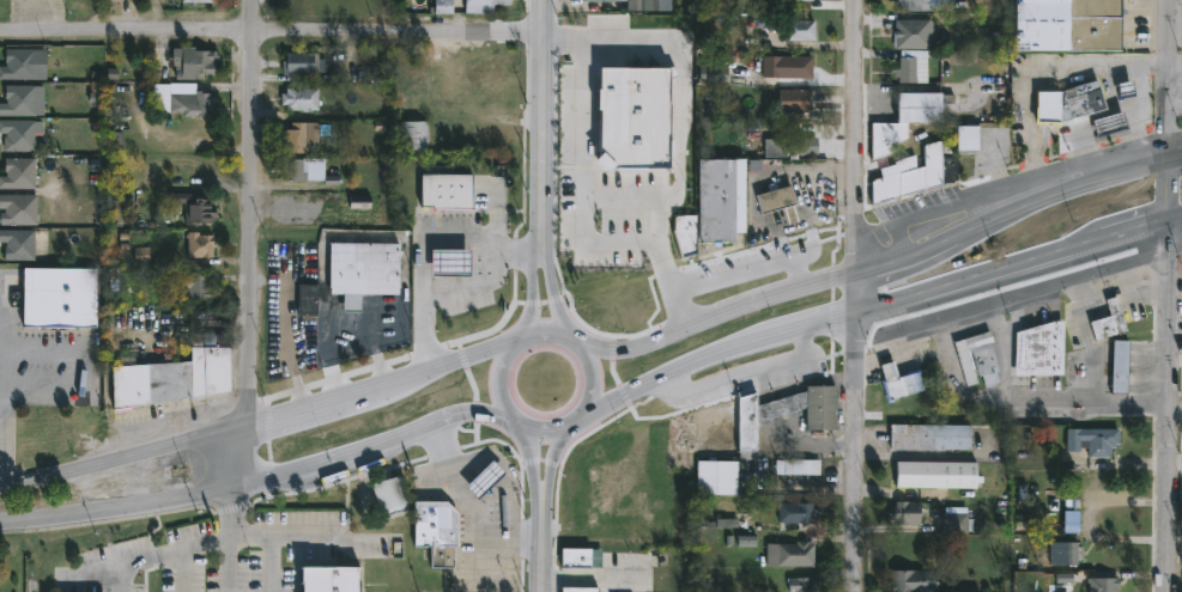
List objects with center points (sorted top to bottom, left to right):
building: (194, 0)
building: (799, 0)
building: (486, 1)
building: (601, 1)
building: (108, 2)
building: (638, 5)
building: (925, 5)
building: (1066, 24)
building: (600, 28)
building: (800, 30)
road: (269, 32)
building: (911, 33)
building: (193, 62)
building: (299, 62)
building: (17, 63)
building: (786, 66)
road: (1175, 66)
building: (611, 67)
building: (907, 72)
road: (1036, 73)
building: (478, 75)
building: (711, 75)
road: (1166, 83)
building: (298, 98)
road: (1111, 98)
road: (1139, 98)
building: (187, 99)
building: (17, 100)
building: (792, 100)
building: (1079, 100)
building: (604, 104)
road: (544, 117)
building: (904, 120)
building: (640, 122)
building: (1107, 123)
building: (17, 135)
building: (298, 136)
building: (412, 136)
building: (489, 140)
building: (592, 140)
road: (1091, 140)
building: (788, 146)
road: (1139, 152)
building: (942, 161)
road: (1174, 163)
building: (292, 171)
building: (17, 172)
building: (595, 177)
road: (592, 187)
building: (445, 188)
building: (719, 199)
building: (776, 202)
building: (193, 207)
building: (17, 209)
building: (296, 210)
road: (254, 216)
building: (606, 221)
road: (424, 243)
road: (550, 243)
building: (198, 244)
building: (17, 245)
building: (663, 246)
building: (449, 260)
gas station: (449, 260)
building: (593, 267)
building: (360, 268)
road: (884, 273)
building: (196, 285)
road: (1133, 291)
road: (865, 295)
road: (1103, 295)
building: (55, 297)
road: (541, 297)
road: (565, 297)
building: (304, 300)
building: (478, 301)
road: (347, 313)
road: (883, 316)
building: (1107, 322)
road: (1085, 335)
road: (558, 340)
road: (534, 347)
road: (1000, 347)
road: (584, 349)
building: (1038, 349)
building: (976, 359)
building: (1117, 367)
building: (170, 374)
road: (951, 374)
road: (1168, 378)
building: (898, 383)
road: (510, 384)
road: (604, 387)
road: (384, 393)
road: (1087, 401)
road: (2, 423)
road: (586, 426)
road: (531, 427)
building: (819, 427)
road: (558, 434)
building: (928, 437)
building: (1091, 441)
road: (380, 453)
road: (238, 459)
road: (121, 463)
building: (796, 466)
building: (934, 475)
road: (563, 476)
building: (484, 477)
road: (542, 477)
building: (714, 477)
building: (386, 494)
road: (117, 505)
road: (472, 511)
building: (795, 513)
building: (904, 513)
building: (956, 523)
building: (432, 524)
road: (253, 536)
road: (297, 536)
road: (232, 538)
road: (187, 549)
road: (479, 554)
building: (1065, 554)
building: (789, 555)
road: (550, 557)
road: (120, 563)
building: (580, 564)
road: (121, 578)
building: (329, 578)
building: (911, 580)
road: (602, 585)
building: (800, 585)
building: (1102, 585)
building: (582, 588)
building: (968, 590)

